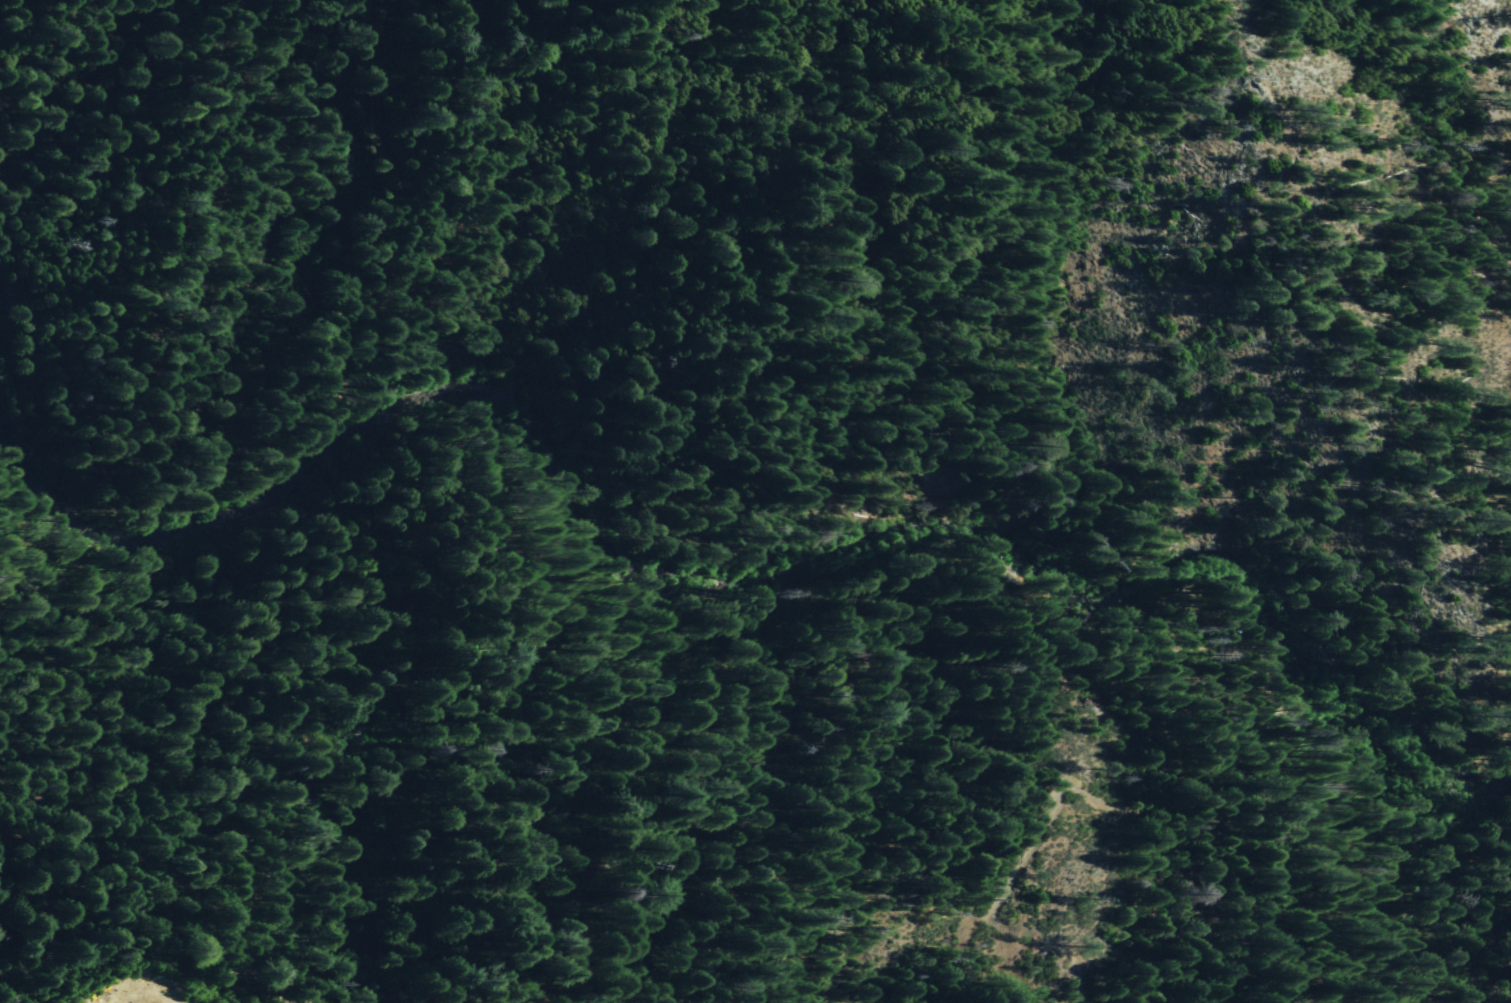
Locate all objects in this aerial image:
quarry: (129, 994)

